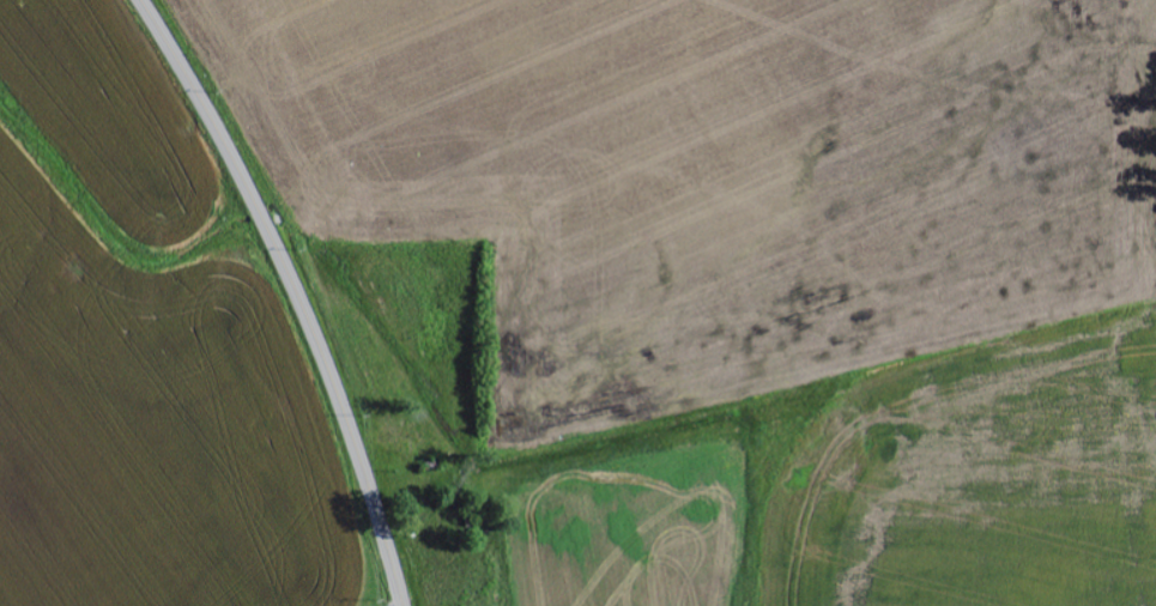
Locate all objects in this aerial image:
road: (296, 291)

